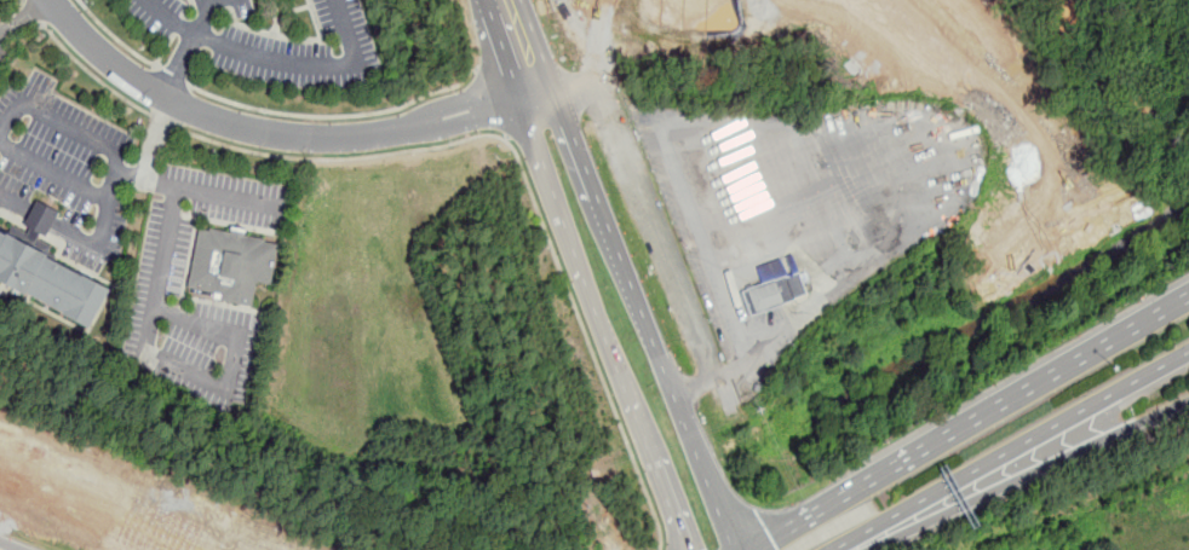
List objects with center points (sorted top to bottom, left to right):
road: (23, 16)
road: (0, 34)
road: (188, 42)
parking lot: (270, 42)
road: (518, 48)
parking lot: (2, 51)
road: (131, 51)
road: (280, 63)
road: (91, 73)
road: (171, 76)
road: (338, 117)
road: (163, 121)
road: (64, 123)
road: (271, 137)
road: (155, 140)
road: (571, 140)
parking lot: (63, 172)
road: (54, 173)
road: (147, 181)
road: (529, 185)
road: (561, 210)
building: (42, 218)
road: (84, 236)
parking lot: (163, 262)
building: (231, 265)
road: (625, 274)
building: (50, 284)
road: (722, 285)
building: (776, 285)
road: (150, 329)
road: (1172, 365)
street lamp: (1115, 366)
road: (1051, 376)
road: (628, 390)
road: (696, 452)
road: (996, 462)
road: (1015, 475)
road: (833, 503)
road: (670, 504)

